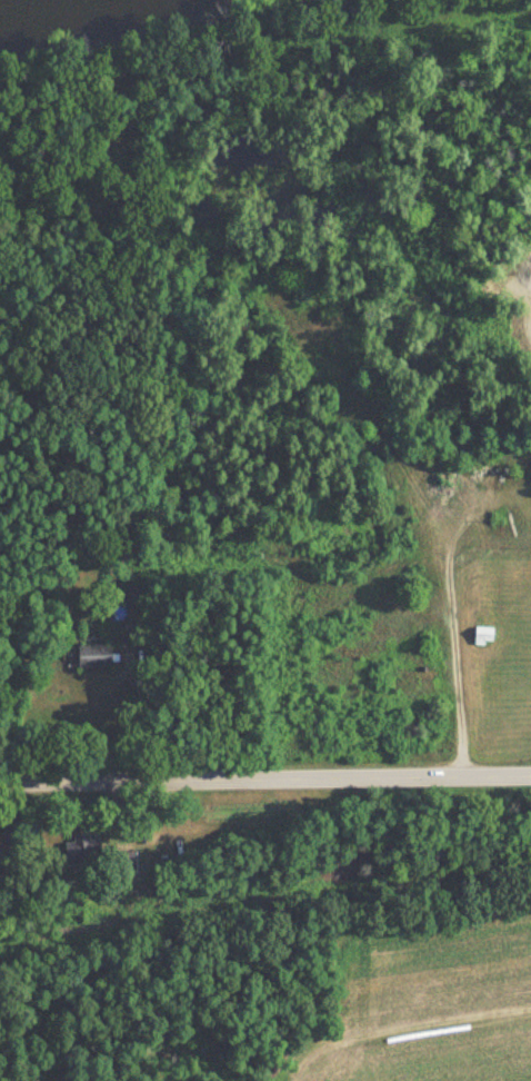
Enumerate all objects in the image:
road: (450, 536)
building: (136, 609)
building: (481, 635)
building: (92, 656)
road: (265, 778)
building: (82, 851)

